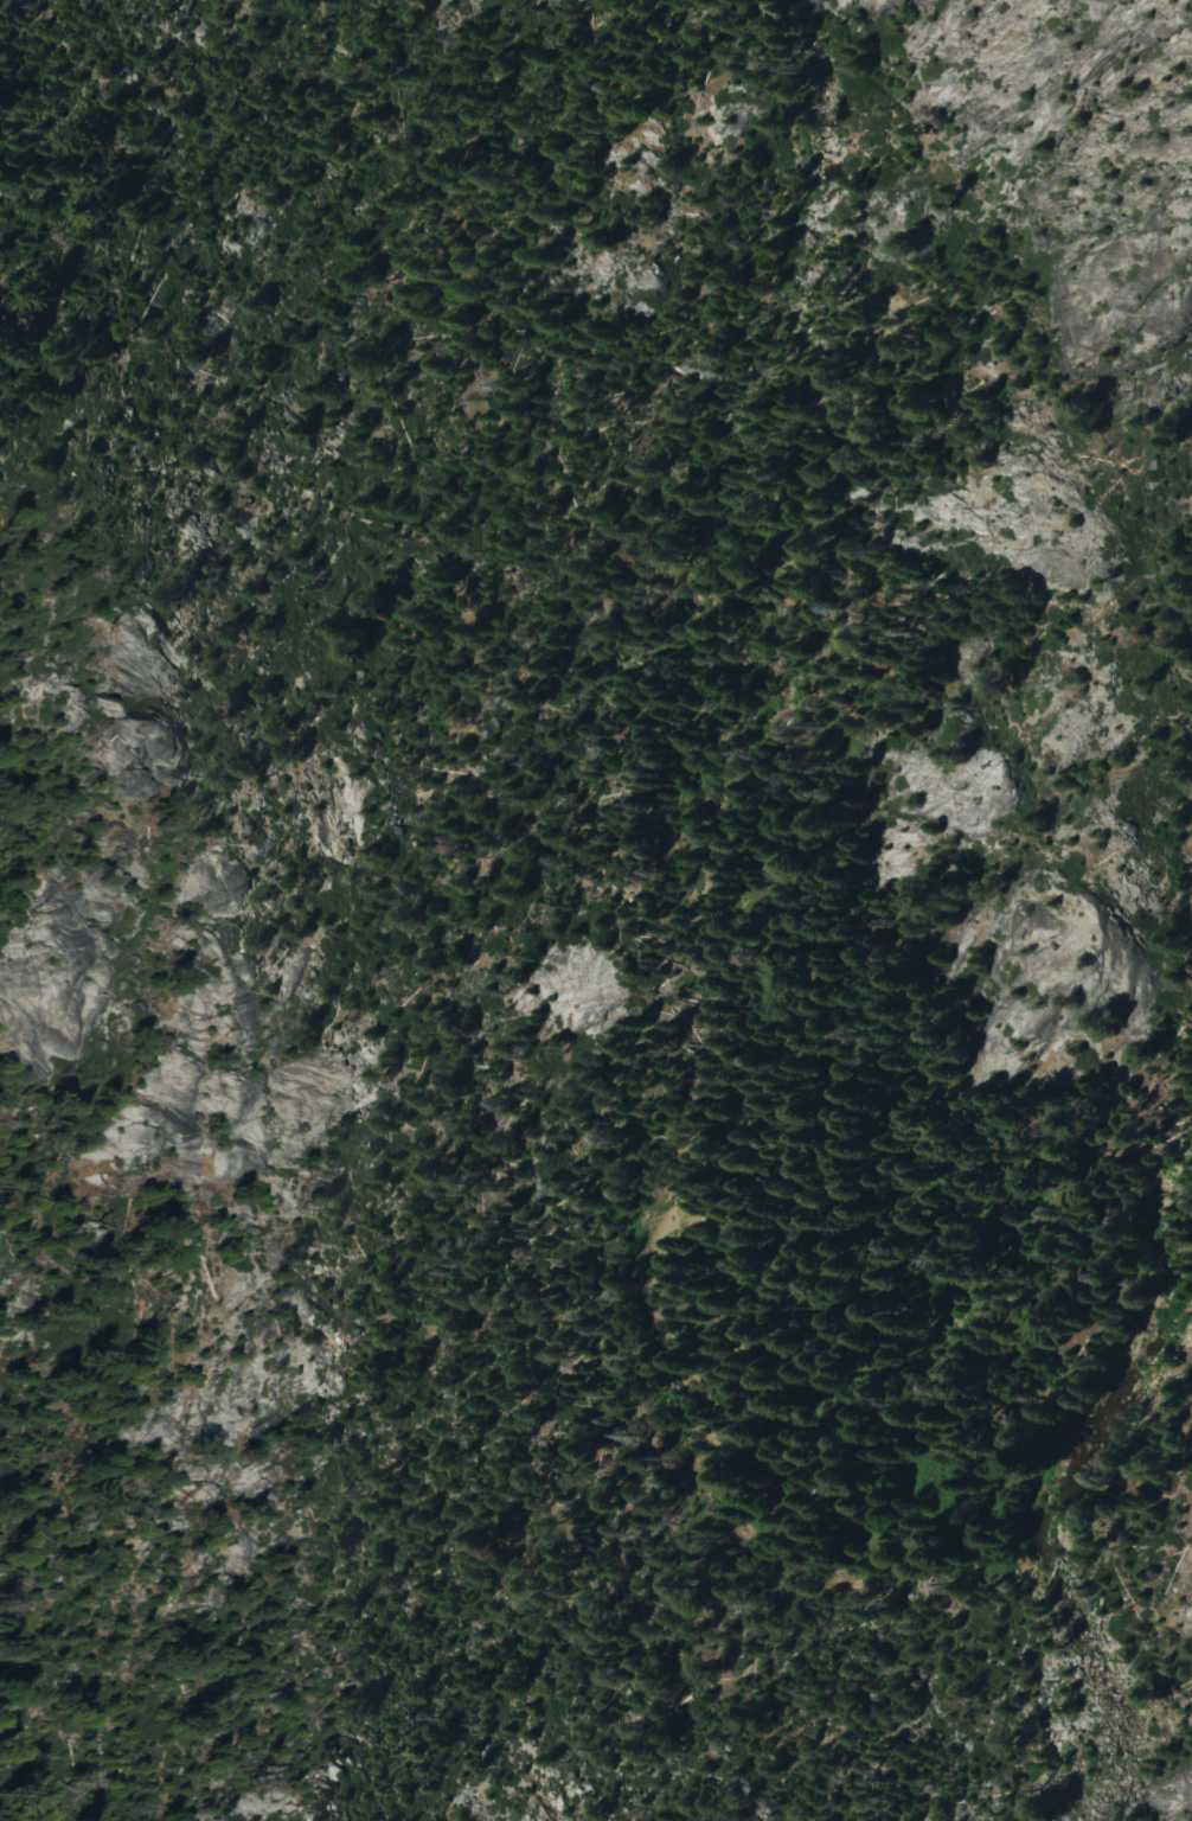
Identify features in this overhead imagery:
river: (1051, 1555)

